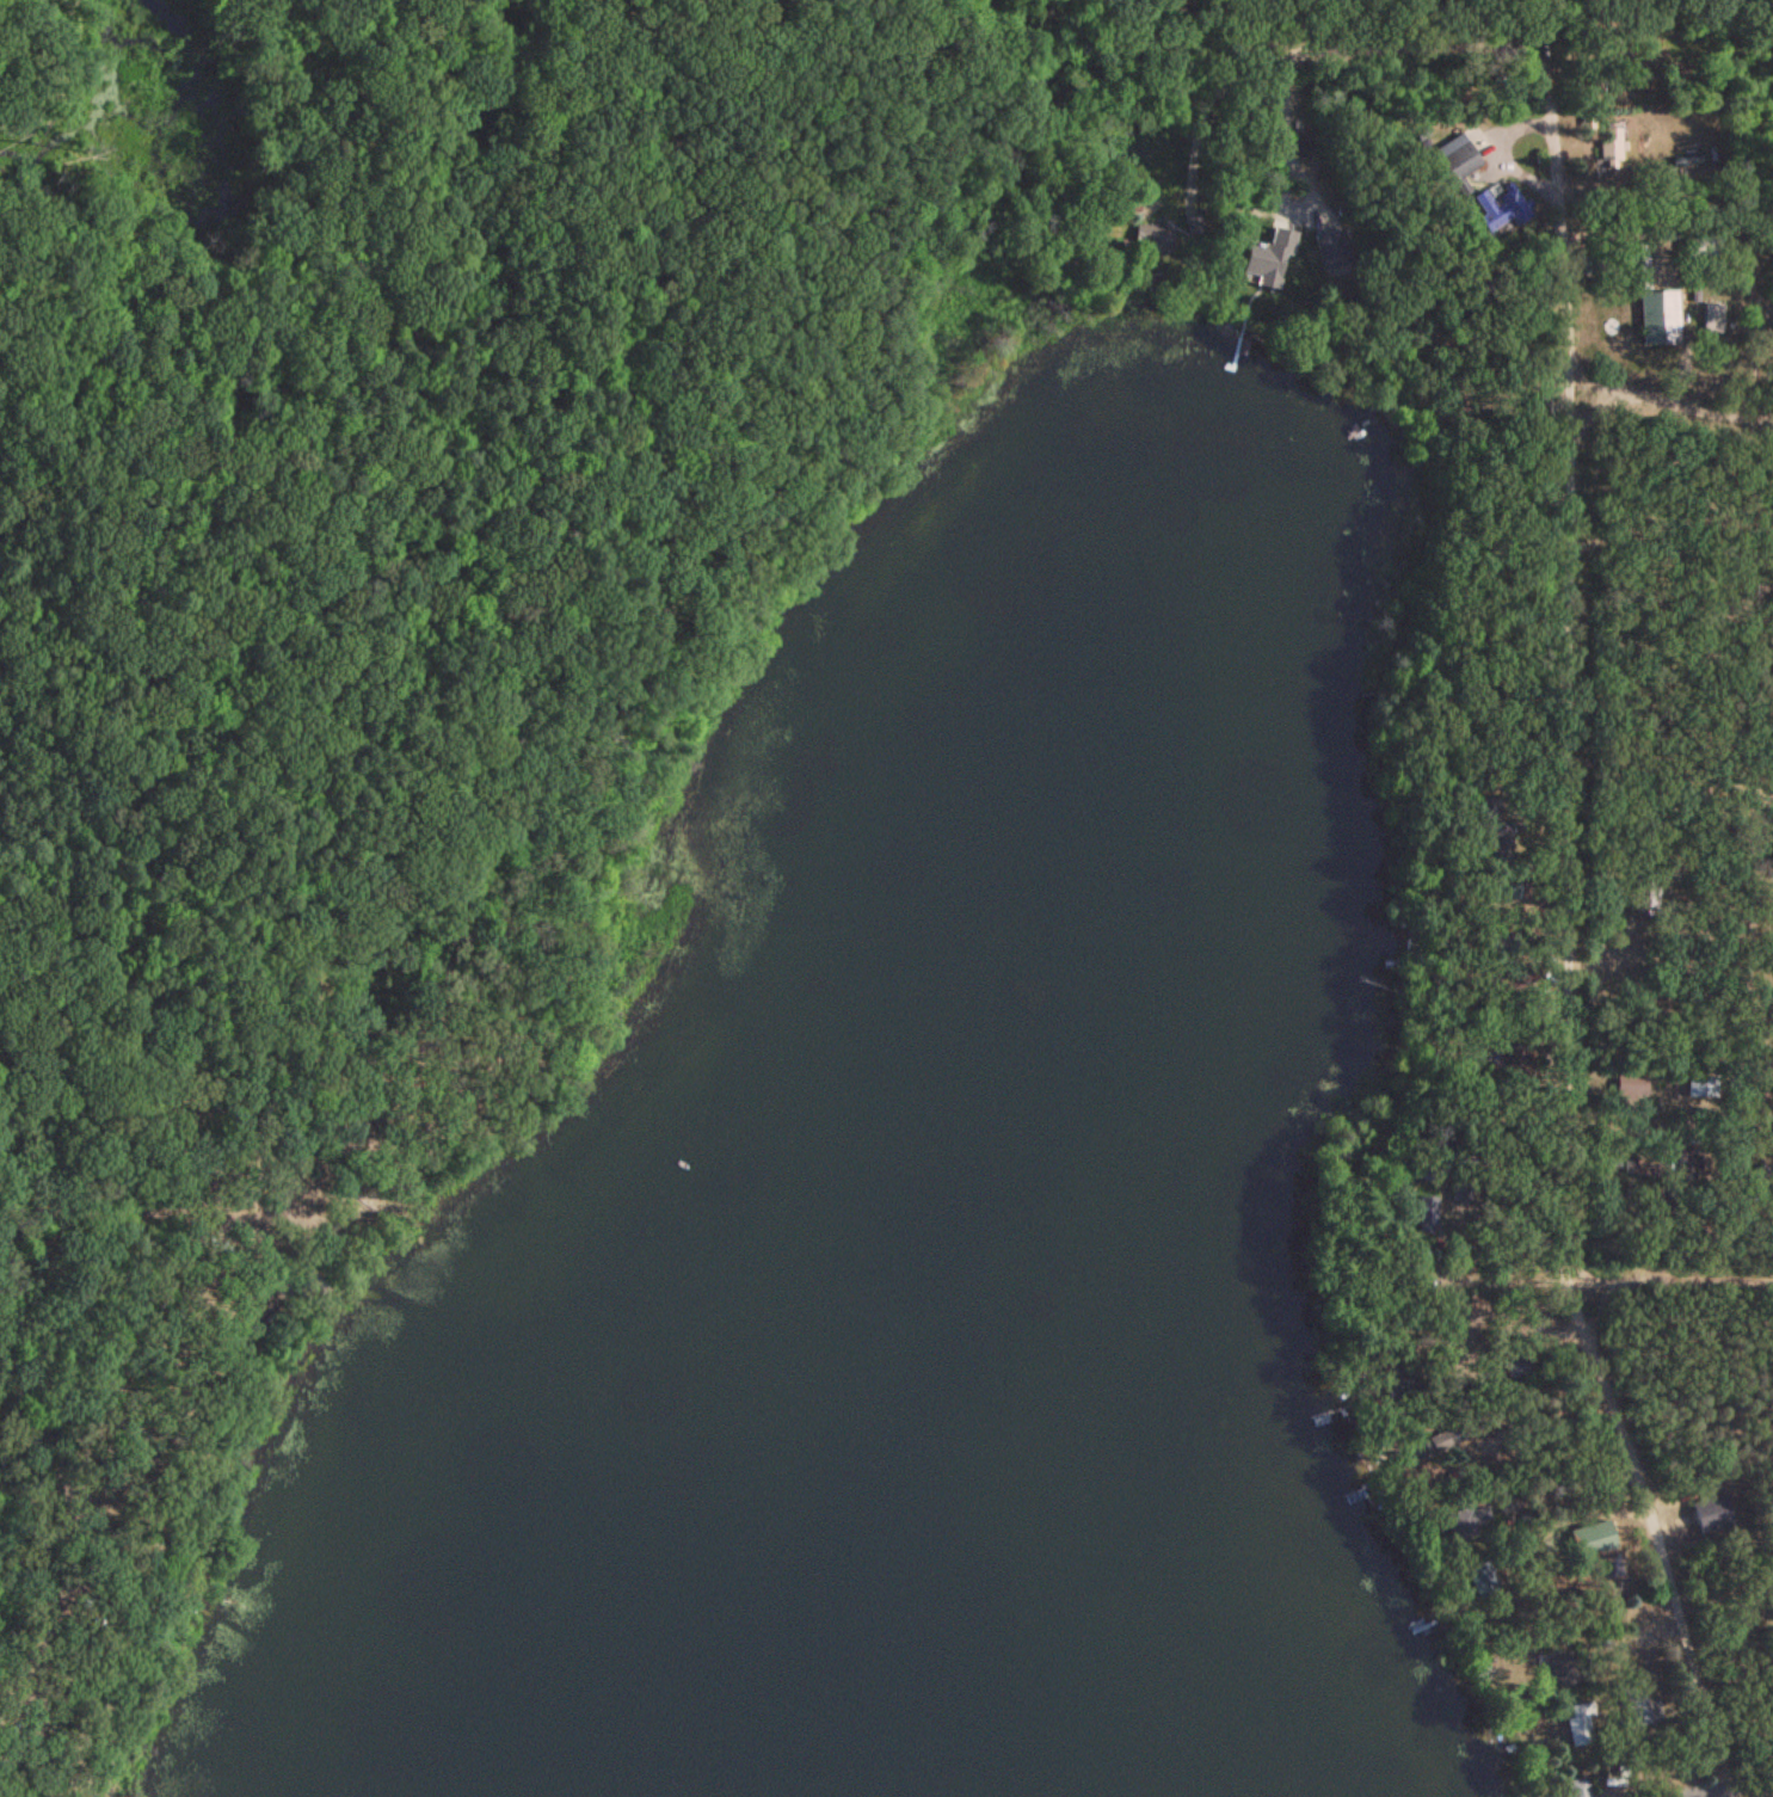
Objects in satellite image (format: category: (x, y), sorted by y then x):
road: (1421, 2)
road: (1213, 48)
road: (1275, 94)
building: (1609, 141)
building: (1683, 161)
road: (1661, 199)
building: (1193, 226)
building: (1331, 250)
building: (1660, 315)
building: (1710, 318)
road: (1377, 319)
road: (1664, 601)
road: (1558, 911)
building: (1694, 1085)
road: (1666, 1089)
building: (1682, 1159)
road: (19, 1218)
road: (1663, 1238)
road: (254, 1311)
building: (1711, 1513)
road: (54, 1530)
building: (1577, 1724)
building: (1575, 1787)

